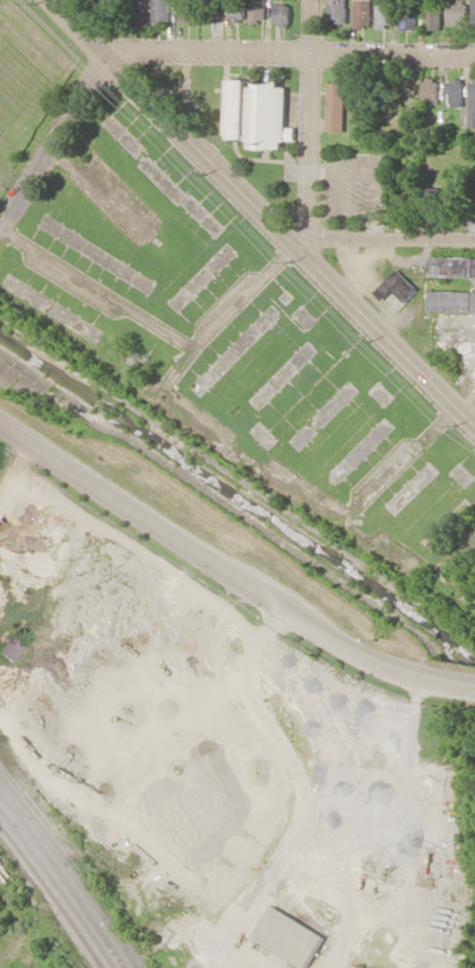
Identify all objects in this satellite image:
building: (190, 10)
building: (259, 10)
building: (163, 11)
building: (340, 11)
building: (139, 12)
building: (238, 12)
building: (459, 12)
building: (283, 13)
building: (364, 13)
building: (386, 13)
building: (474, 13)
building: (409, 18)
building: (435, 18)
road: (180, 48)
building: (432, 89)
building: (456, 92)
building: (361, 94)
building: (473, 105)
building: (338, 106)
building: (259, 113)
road: (311, 122)
building: (434, 193)
building: (456, 195)
road: (261, 212)
road: (382, 237)
building: (453, 266)
building: (398, 286)
building: (453, 300)
road: (241, 446)
road: (208, 556)
building: (10, 647)
road: (450, 678)
railway: (58, 887)
railway: (52, 894)
building: (291, 936)
road: (19, 952)

